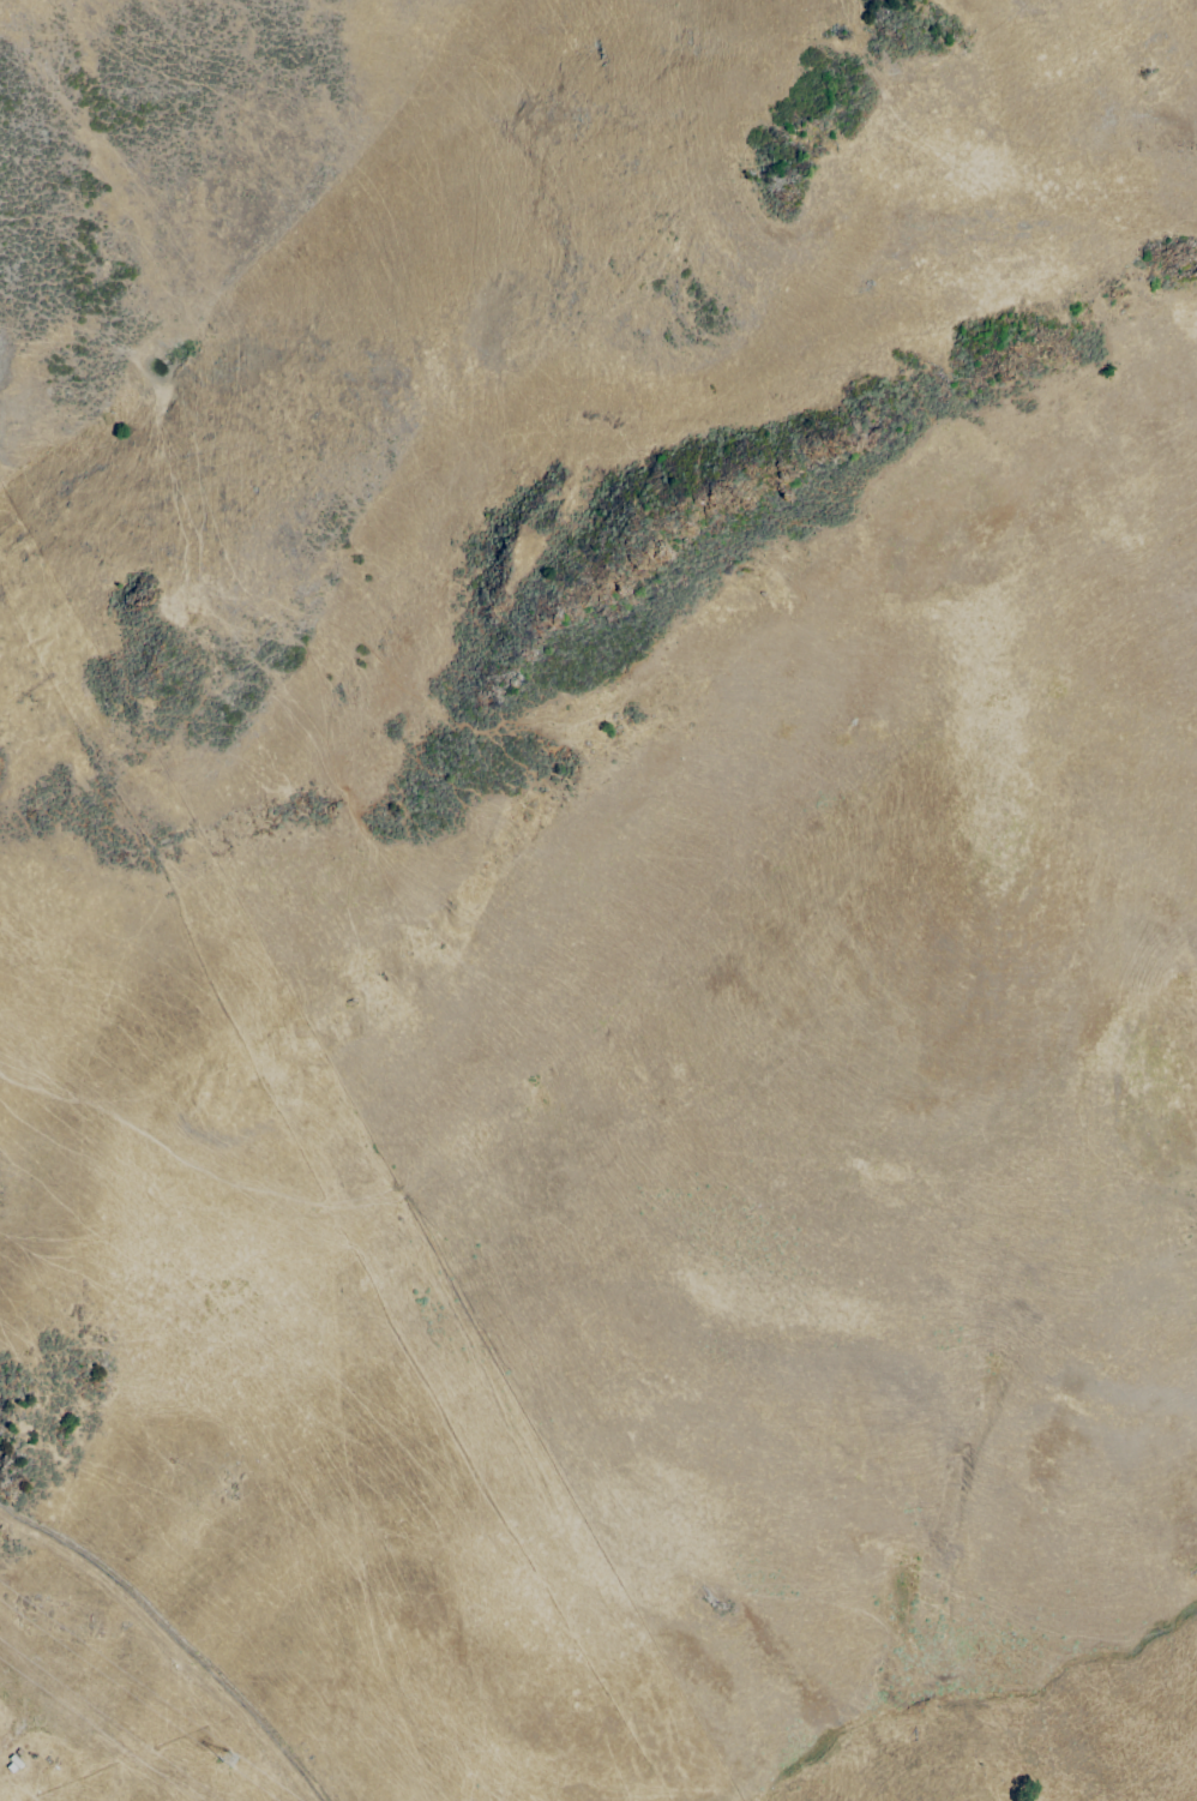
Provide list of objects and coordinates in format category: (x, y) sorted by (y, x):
road: (17, 1724)
power tower: (230, 1760)

